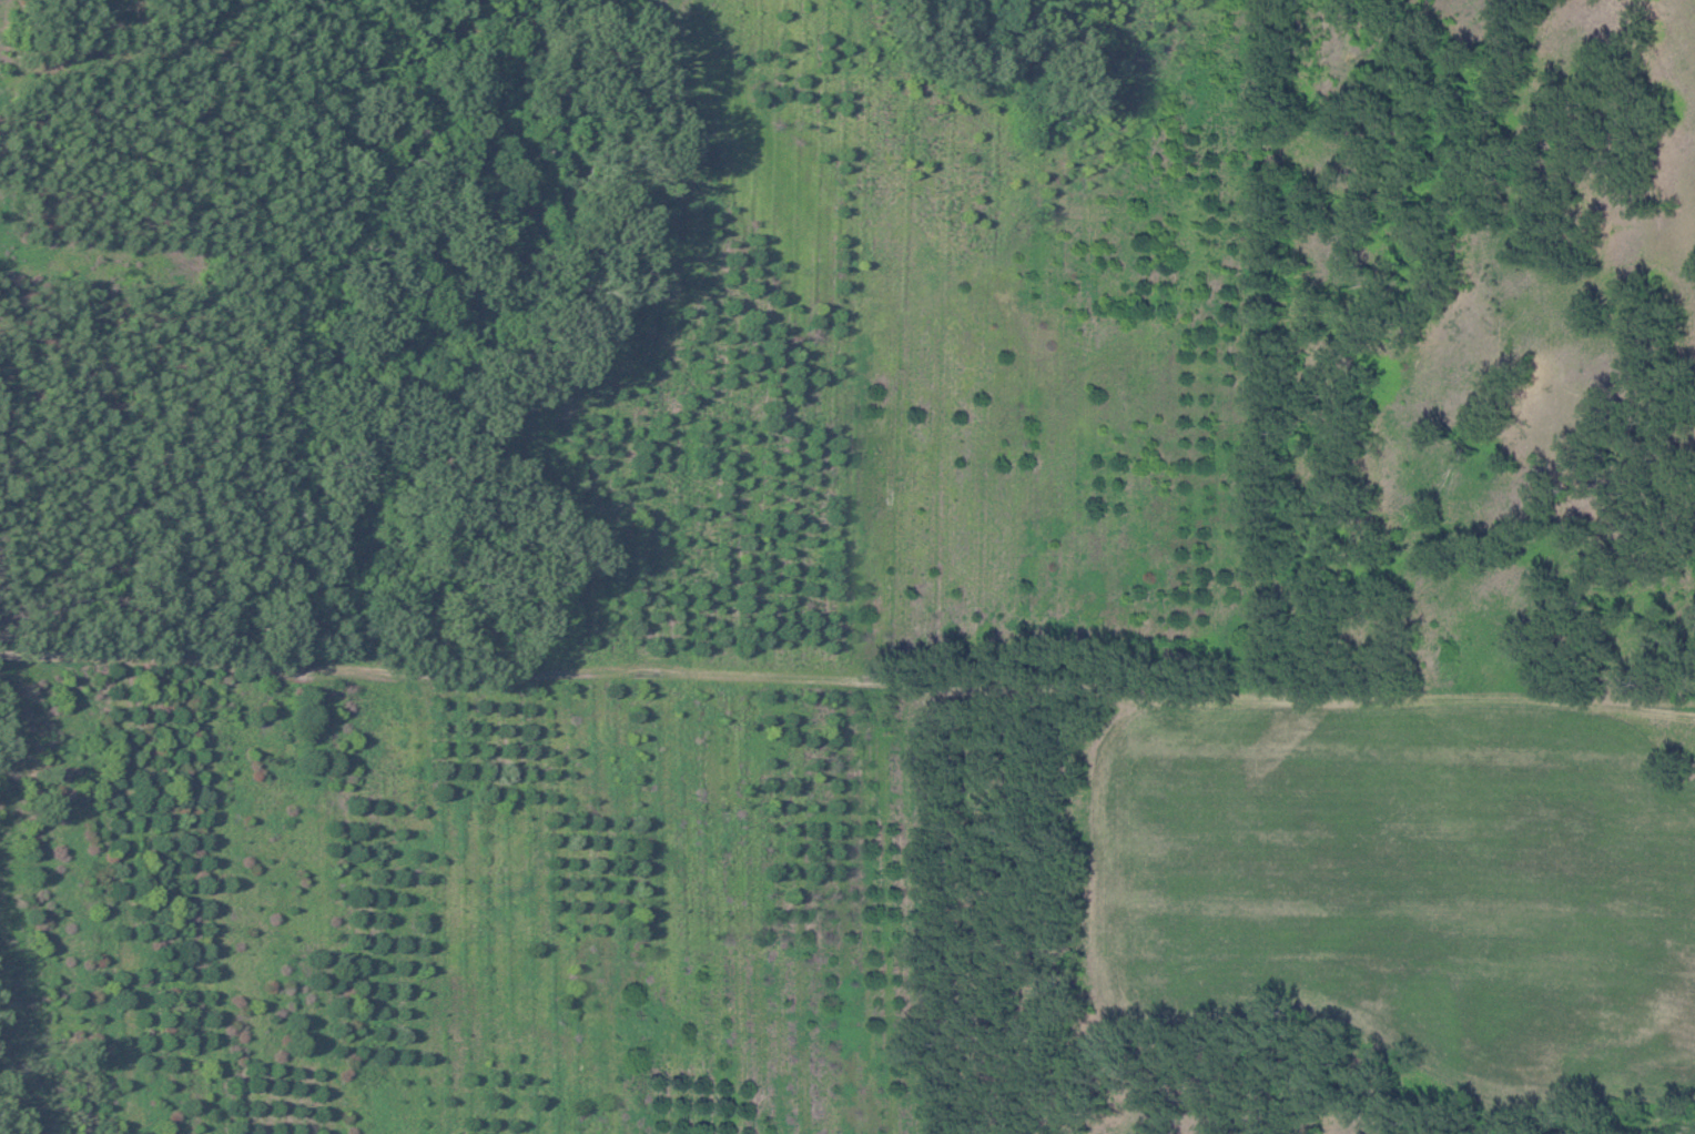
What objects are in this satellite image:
road: (842, 729)

